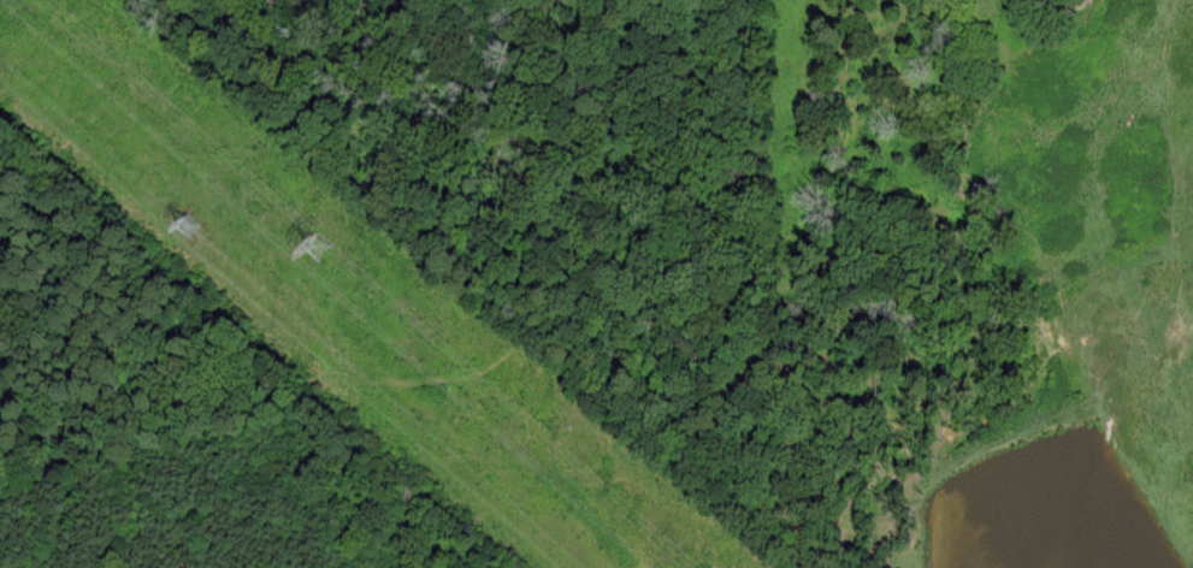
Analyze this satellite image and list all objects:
power tower: (189, 229)
power tower: (318, 248)
road: (454, 377)

